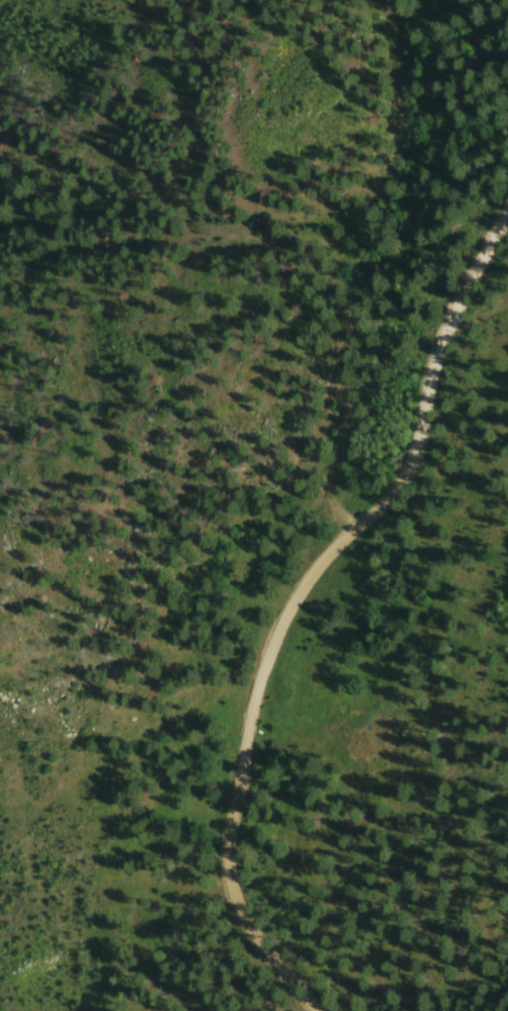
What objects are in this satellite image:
road: (301, 598)

